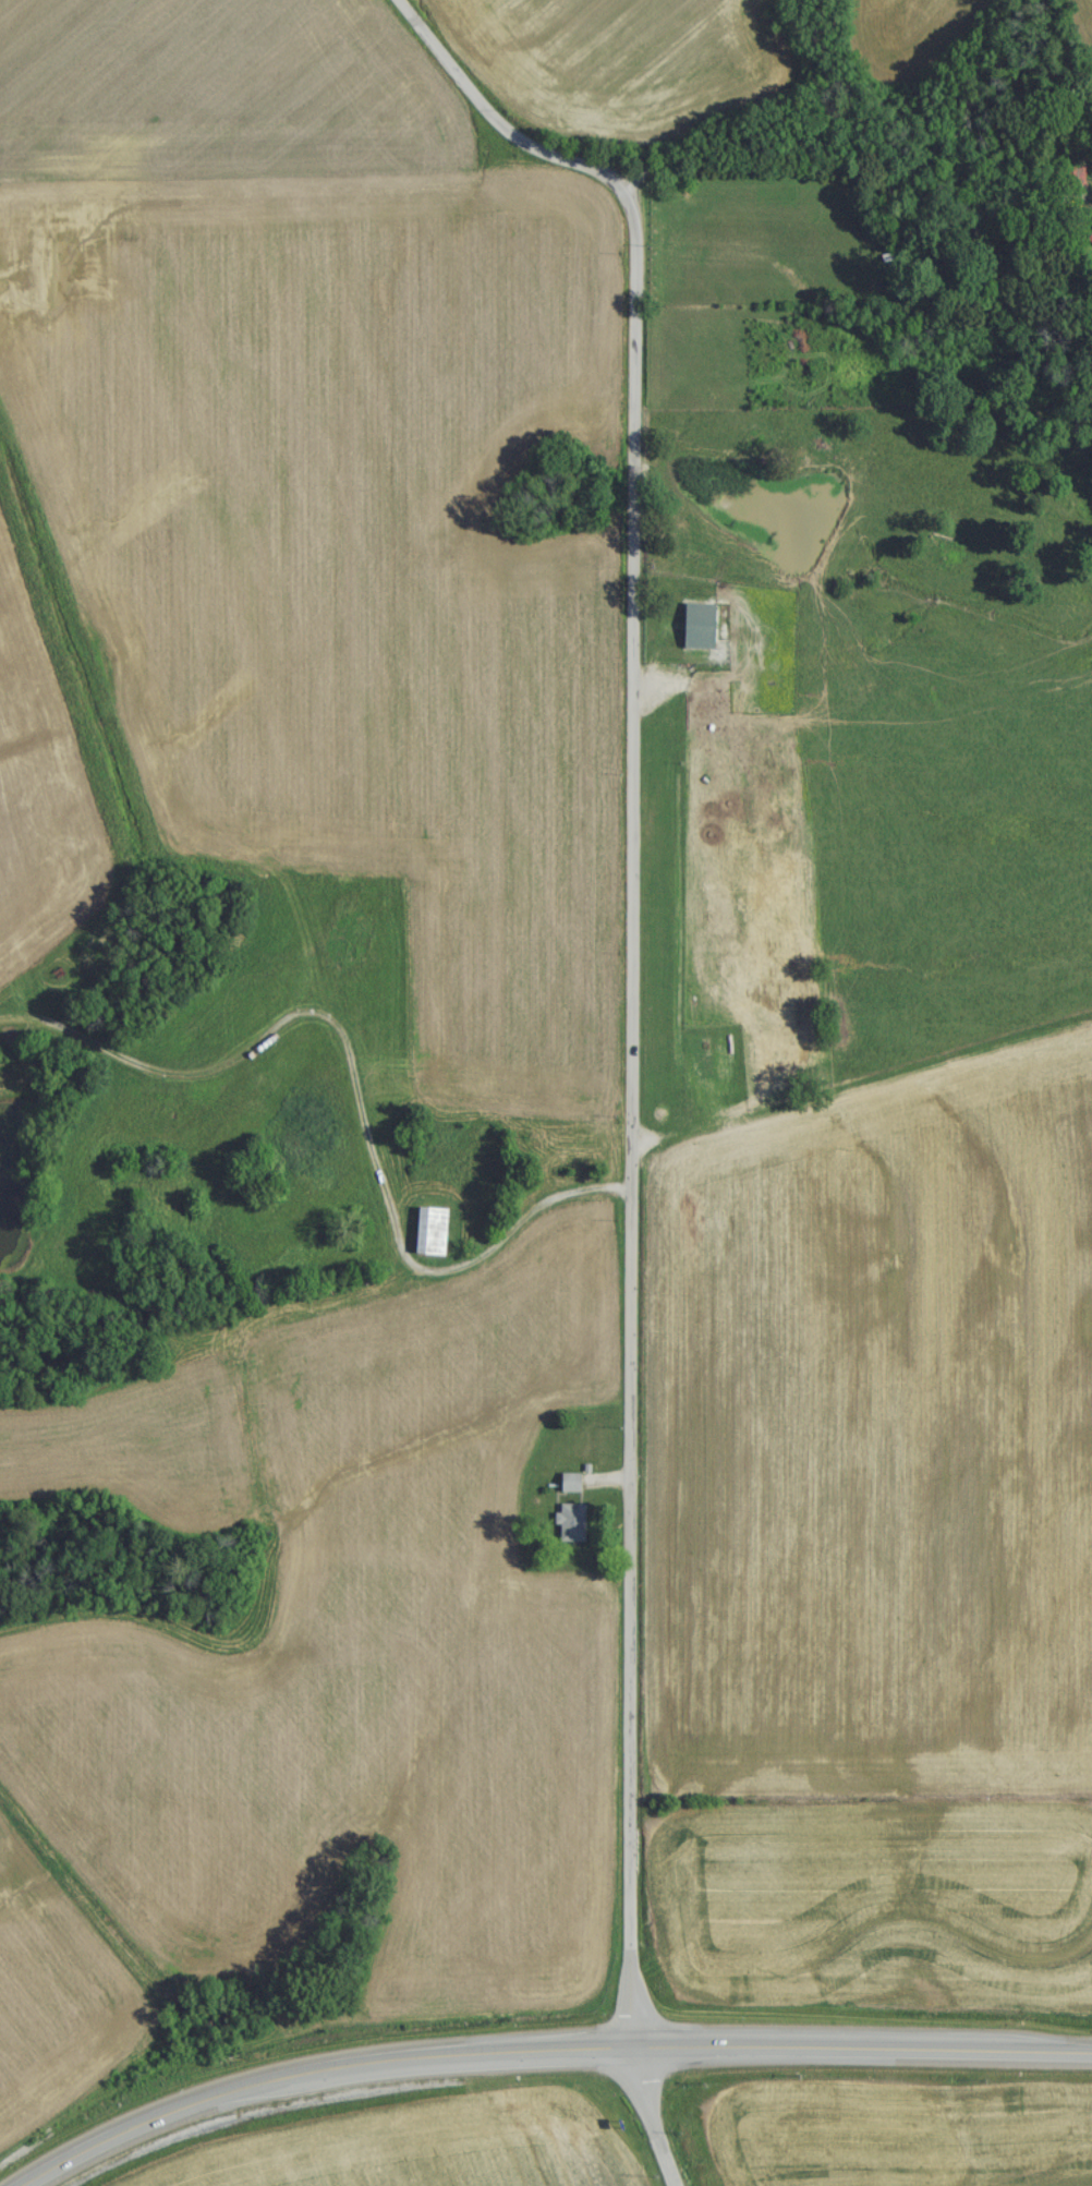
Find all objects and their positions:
road: (863, 97)
road: (496, 124)
building: (695, 632)
road: (634, 1193)
building: (427, 1239)
building: (569, 1518)
road: (546, 2053)

